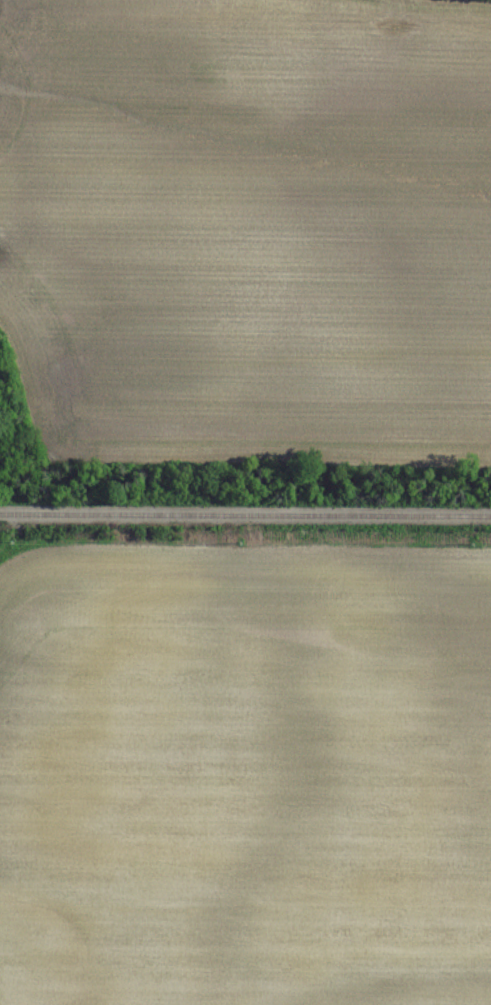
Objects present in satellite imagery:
railway: (245, 508)

